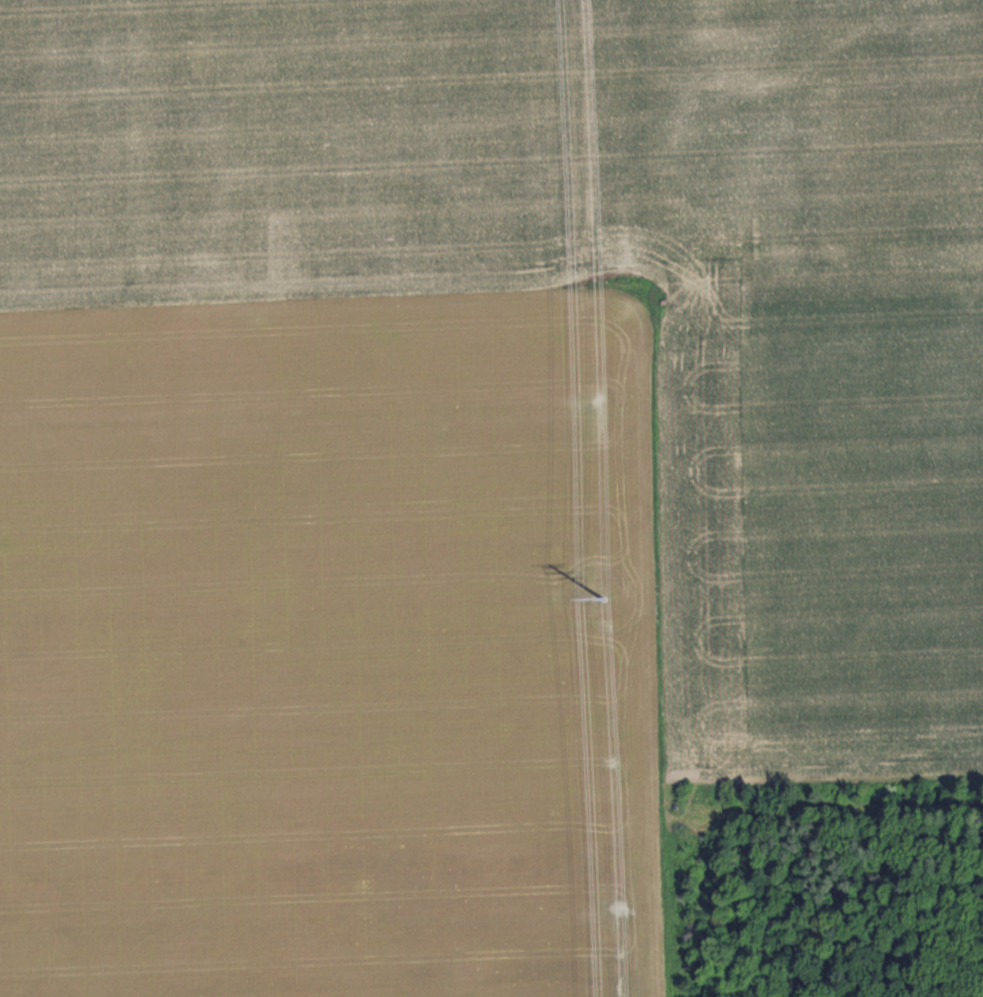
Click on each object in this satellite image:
power tower: (601, 597)

